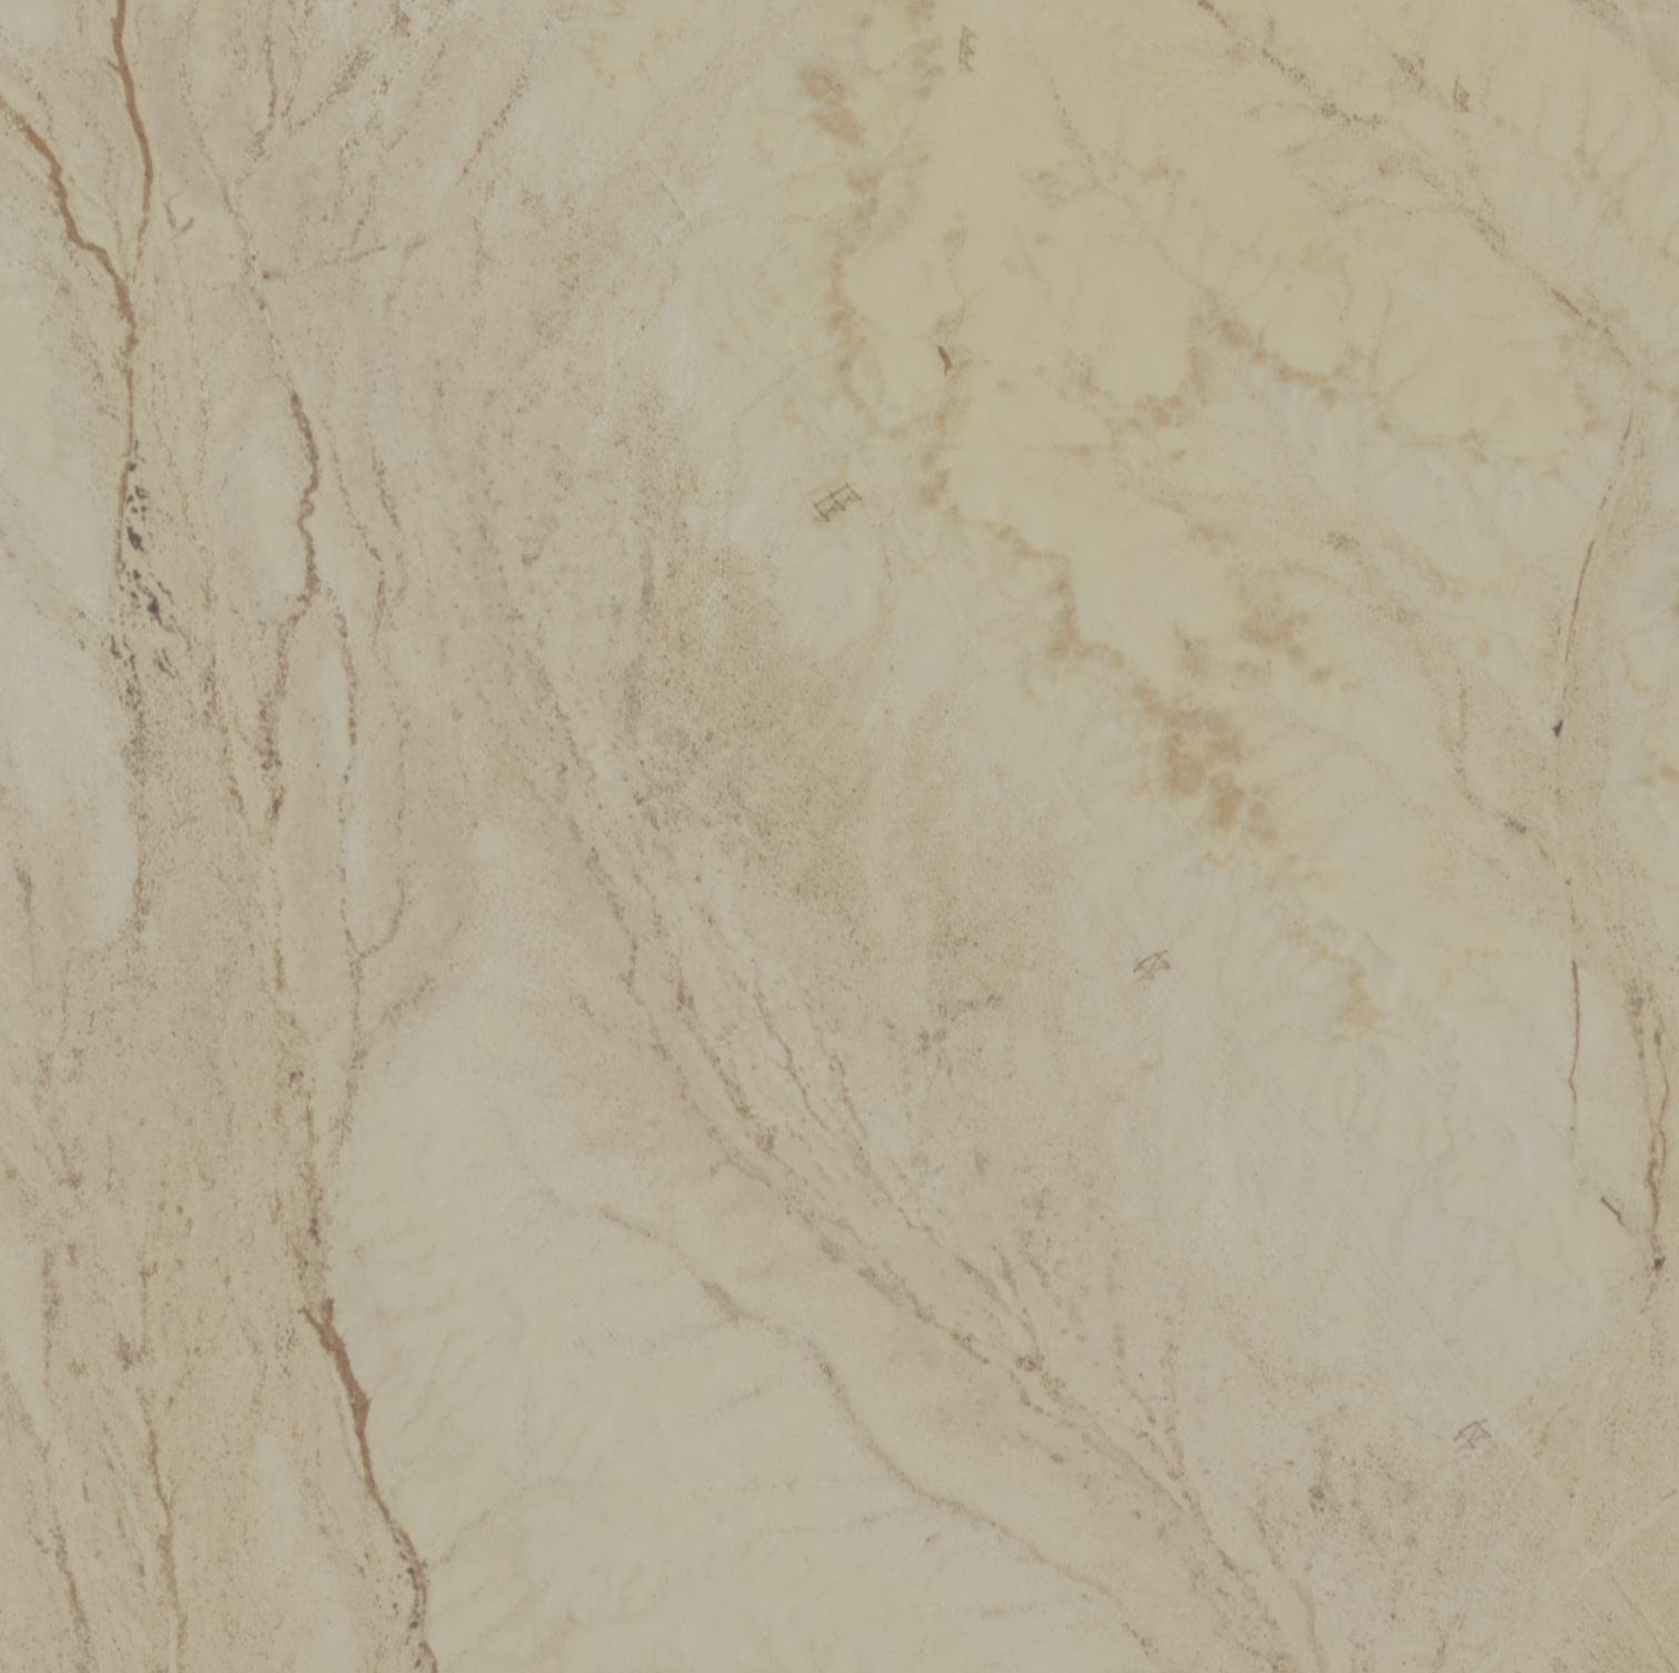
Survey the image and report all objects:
power tower: (414, 23)
power tower: (977, 50)
power tower: (1472, 99)
power tower: (847, 507)
power tower: (1165, 973)
power tower: (1484, 1437)

